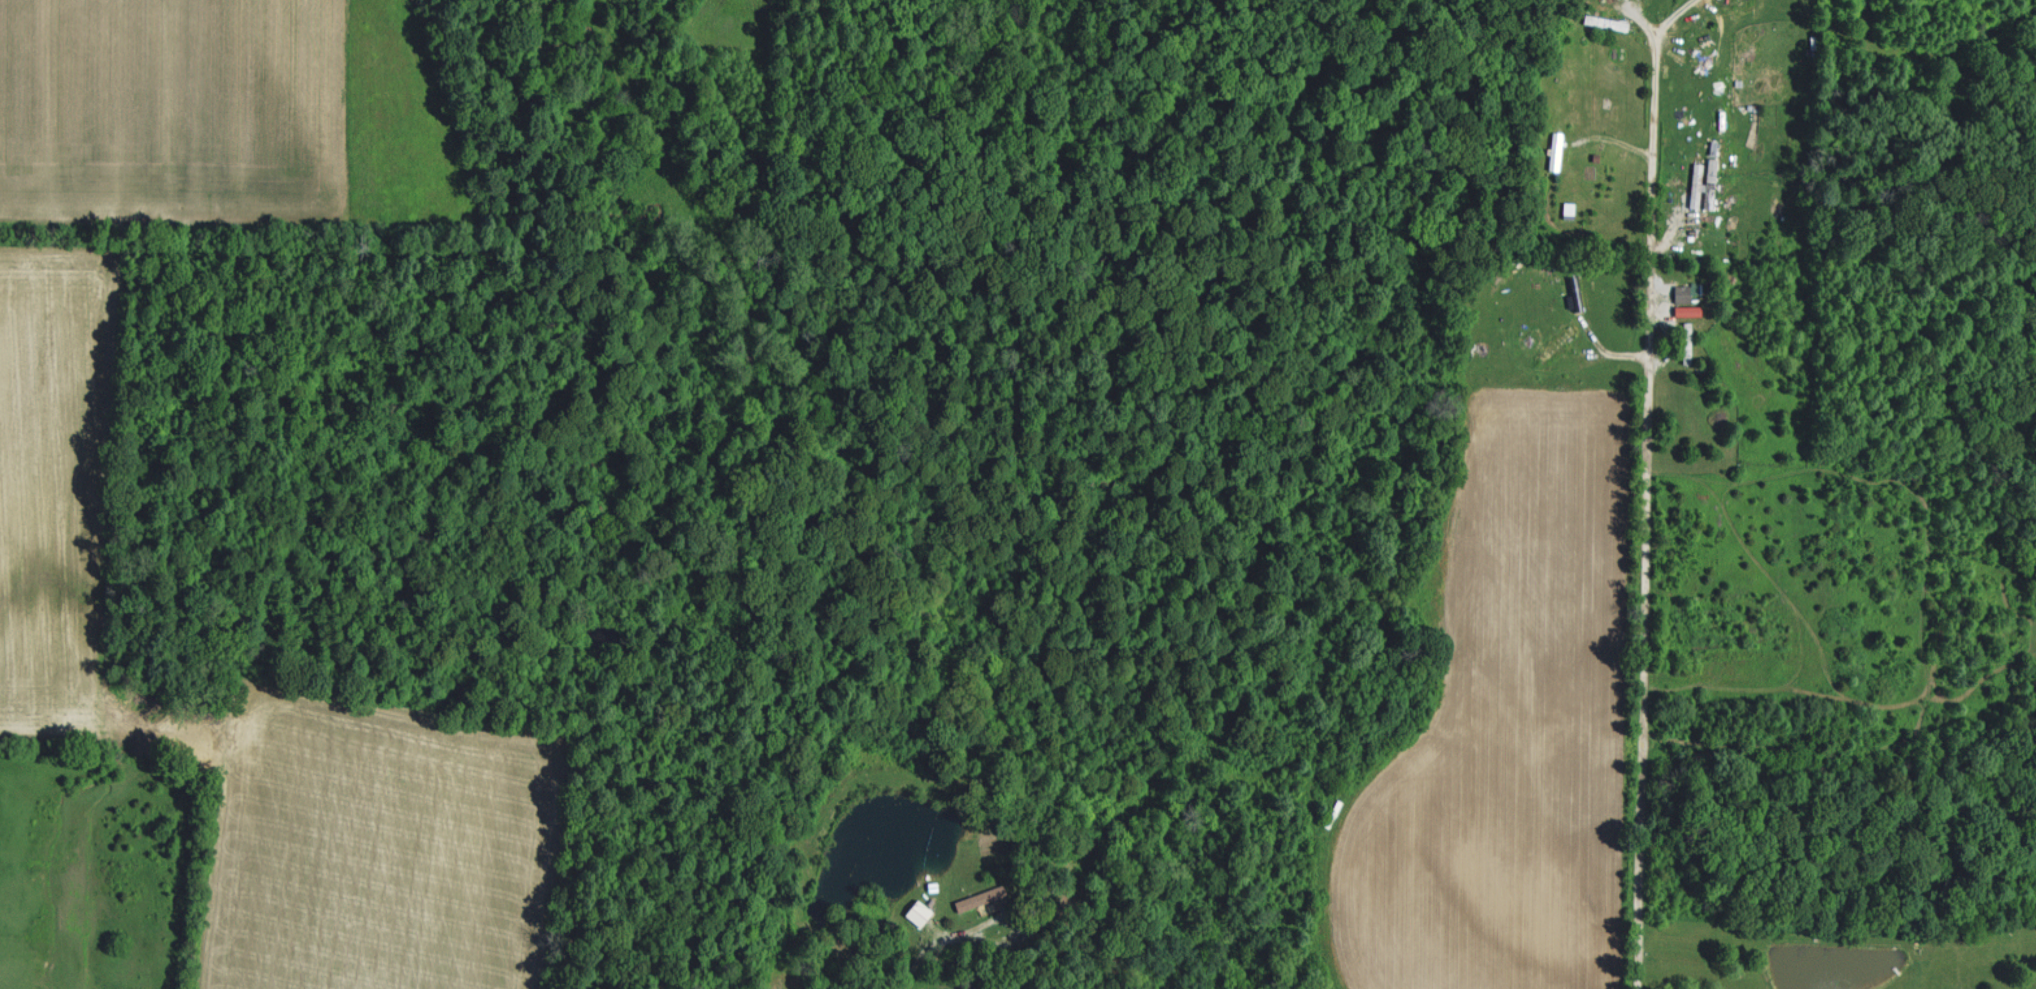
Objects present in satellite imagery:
building: (1556, 150)
building: (1714, 169)
building: (1572, 207)
building: (1689, 291)
building: (1560, 342)
road: (1648, 492)
building: (983, 897)
building: (922, 912)
road: (915, 965)

